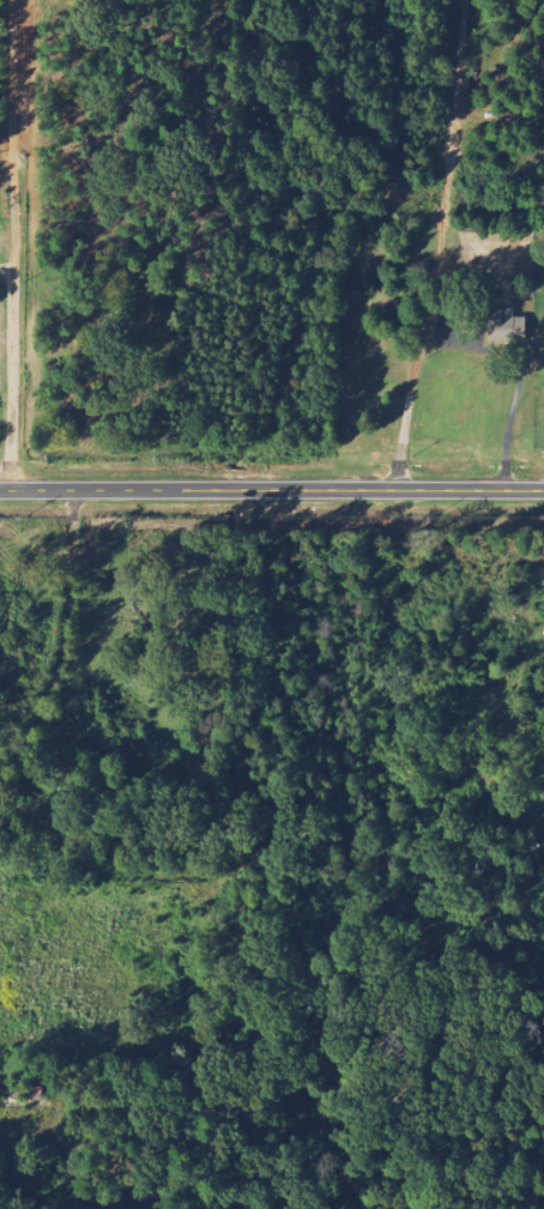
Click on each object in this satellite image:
road: (463, 47)
road: (441, 294)
road: (13, 321)
building: (506, 326)
road: (272, 490)
road: (65, 640)

